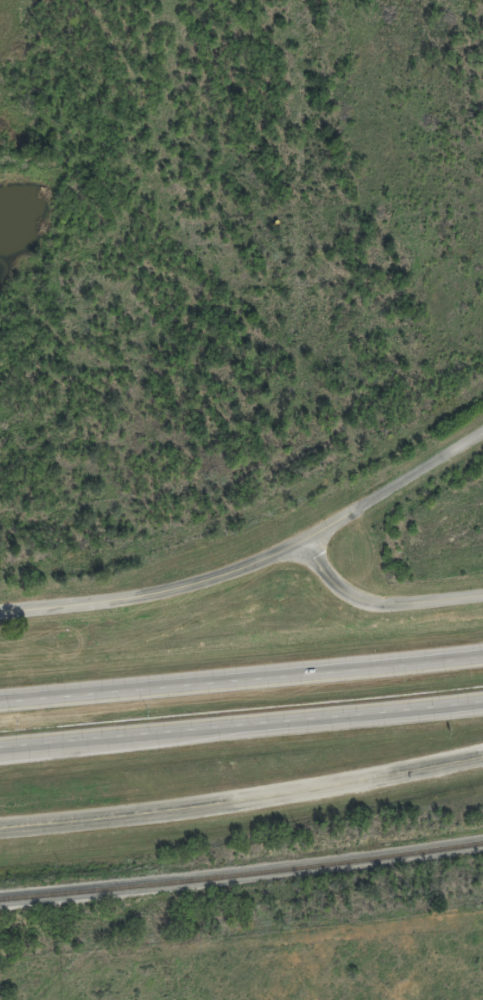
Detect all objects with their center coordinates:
road: (396, 488)
road: (159, 594)
road: (382, 604)
road: (241, 678)
road: (241, 722)
road: (124, 738)
road: (242, 801)
railway: (241, 872)

